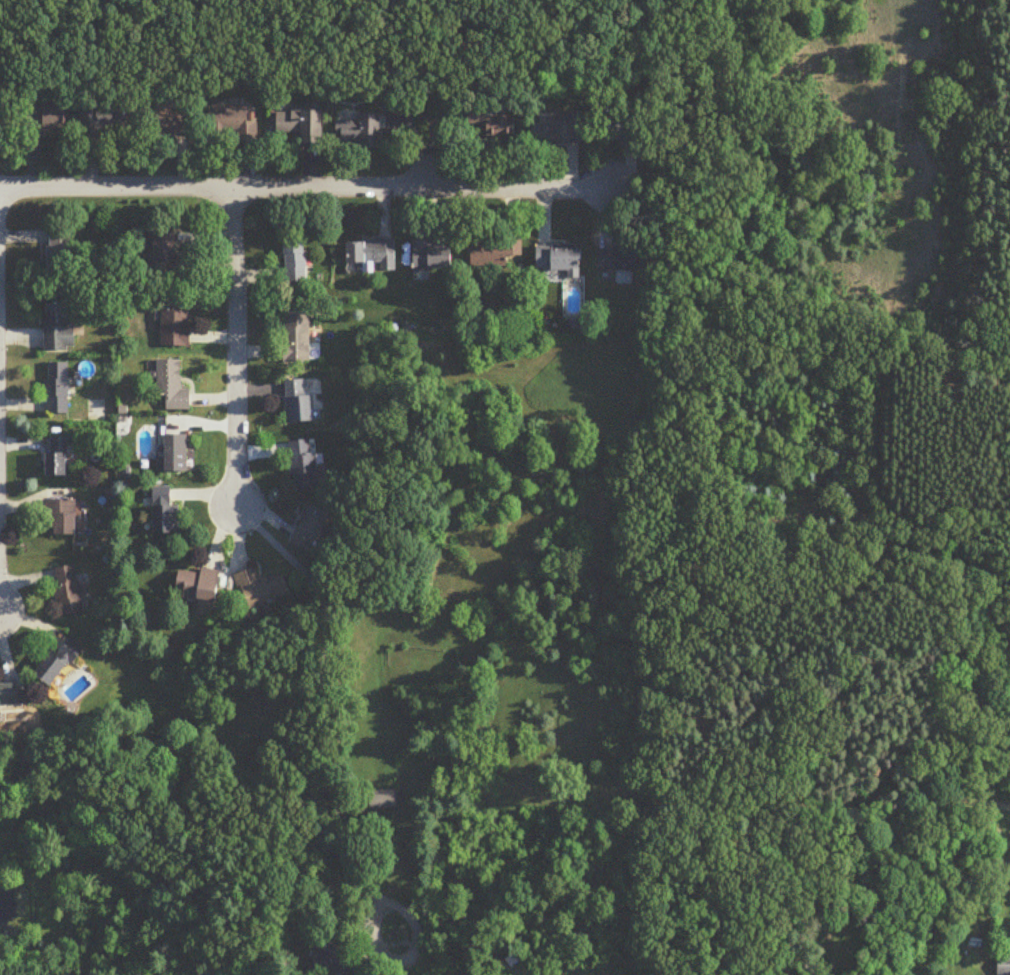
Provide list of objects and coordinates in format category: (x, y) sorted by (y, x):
building: (48, 119)
building: (233, 124)
building: (105, 125)
building: (303, 126)
building: (498, 126)
building: (175, 127)
building: (560, 129)
building: (622, 130)
building: (361, 133)
road: (430, 167)
road: (306, 186)
building: (494, 252)
building: (373, 253)
building: (59, 256)
building: (433, 256)
building: (169, 257)
building: (560, 259)
building: (621, 259)
building: (295, 260)
building: (176, 323)
building: (59, 327)
building: (297, 337)
road: (235, 348)
building: (173, 386)
building: (57, 388)
building: (298, 402)
building: (177, 453)
building: (57, 456)
building: (304, 465)
building: (166, 512)
building: (61, 516)
building: (312, 528)
building: (200, 585)
building: (264, 589)
building: (69, 591)
building: (62, 660)
building: (12, 695)
road: (321, 713)
building: (388, 801)
building: (336, 956)
building: (1004, 966)

